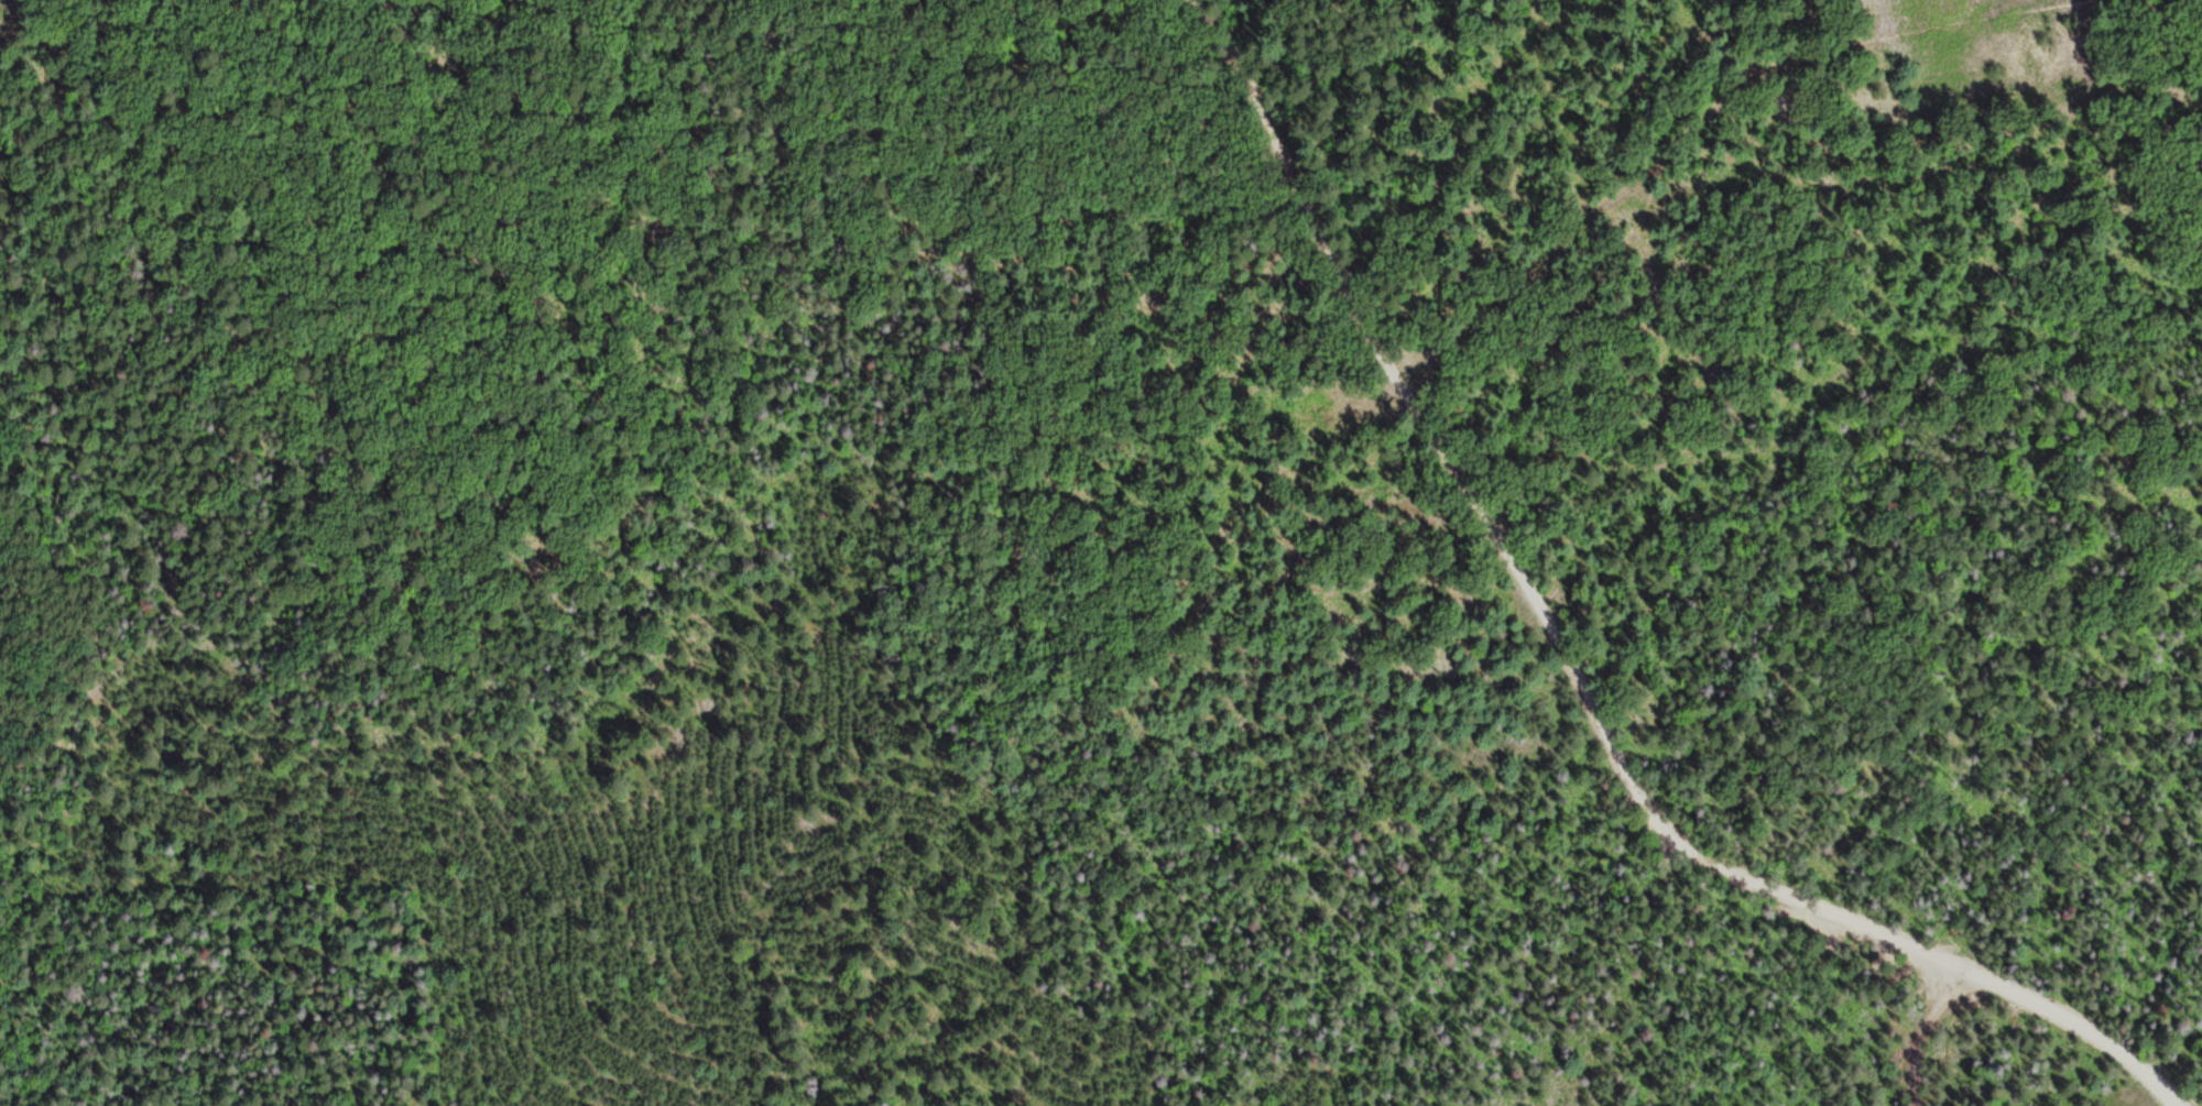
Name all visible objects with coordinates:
road: (2190, 43)
road: (1703, 114)
road: (1322, 580)
road: (1574, 670)
road: (972, 1080)

